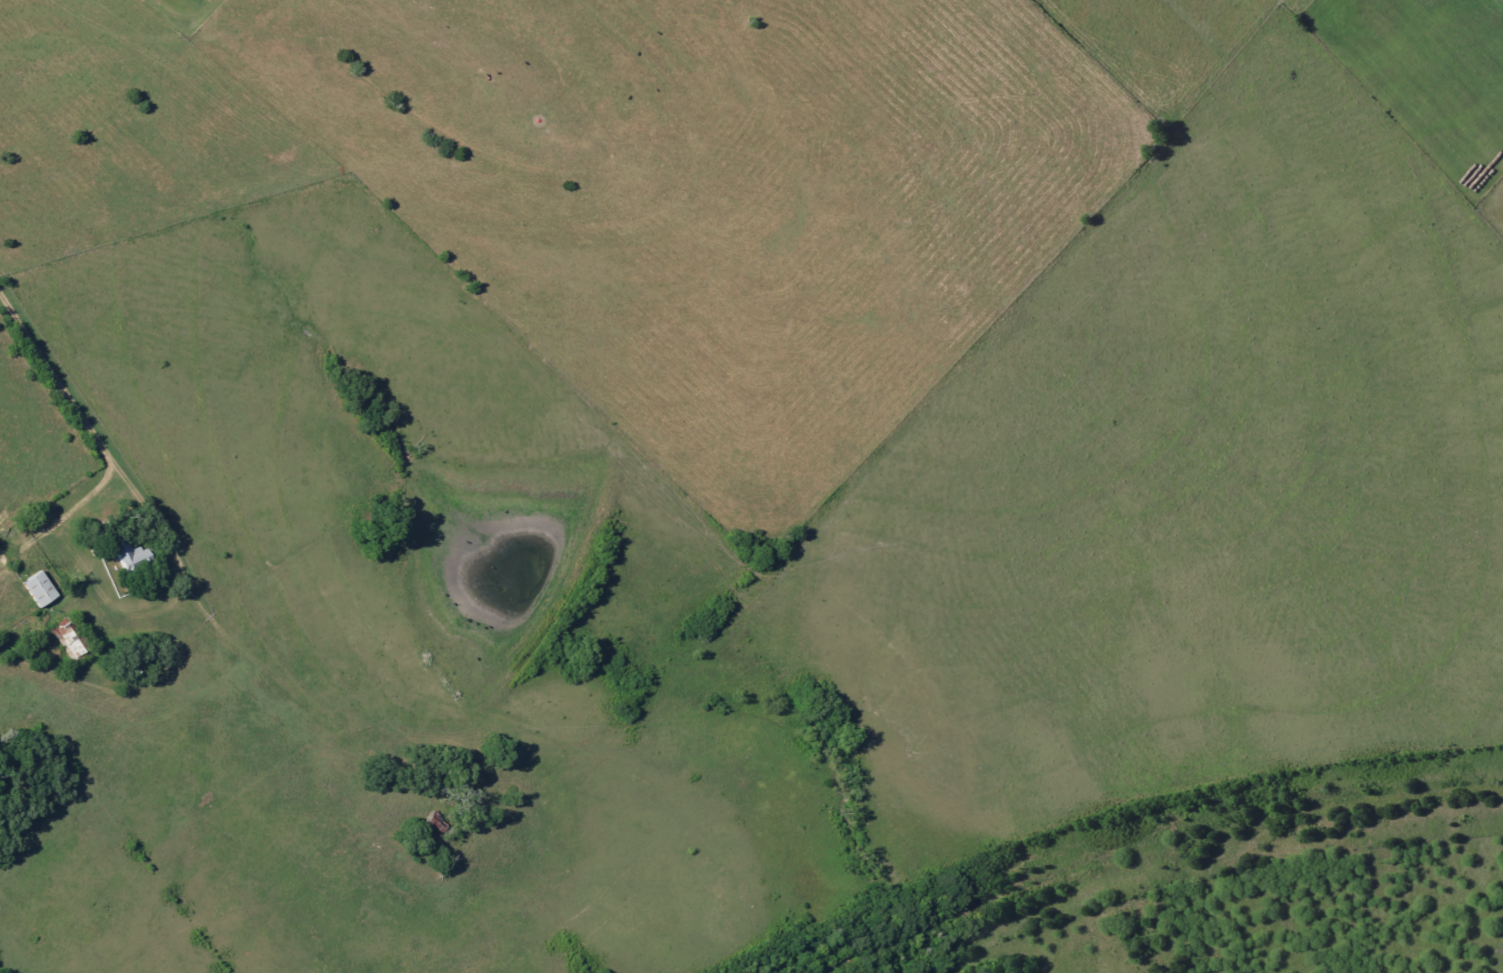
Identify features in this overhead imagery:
building: (130, 554)
building: (41, 589)
building: (68, 639)

